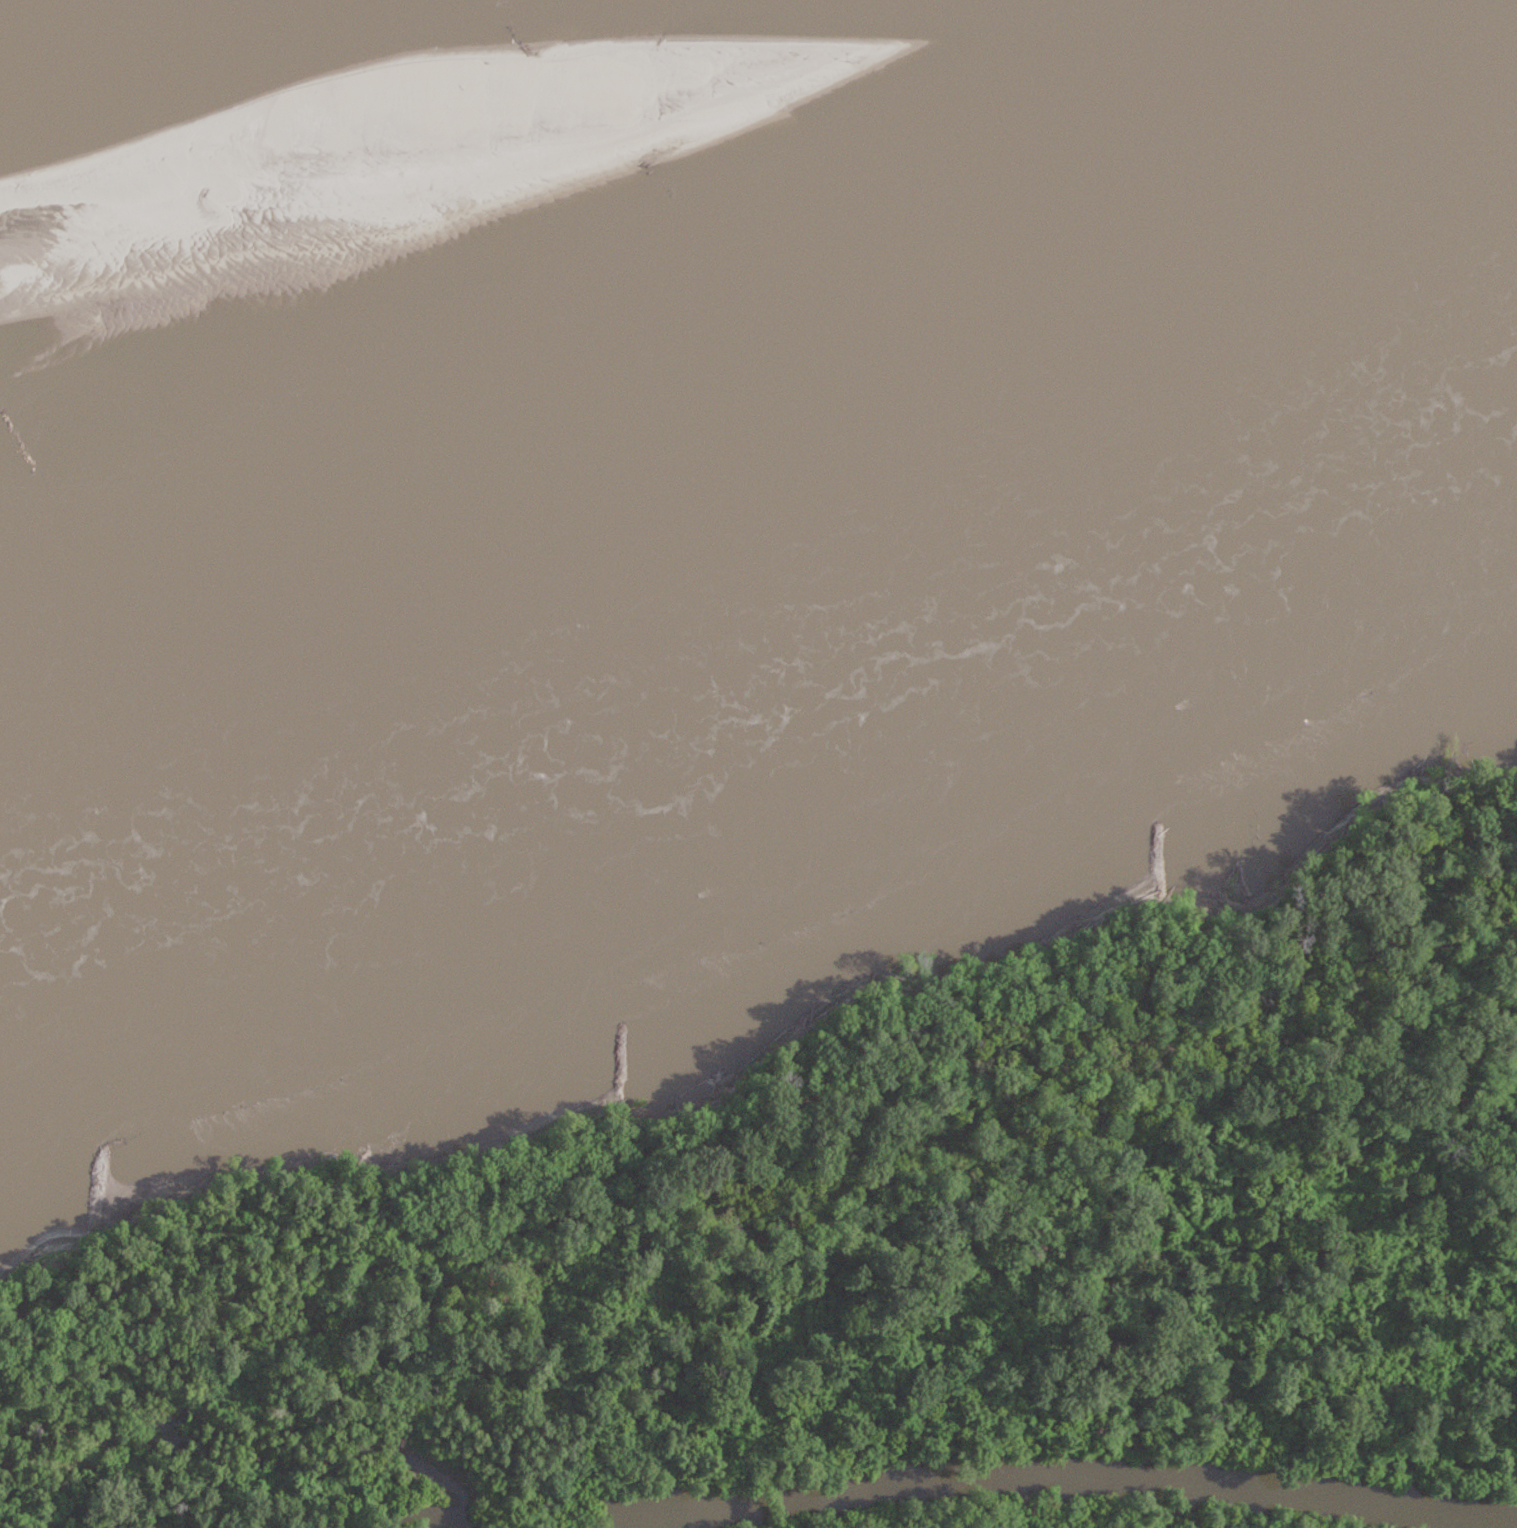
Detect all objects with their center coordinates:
river: (788, 585)

